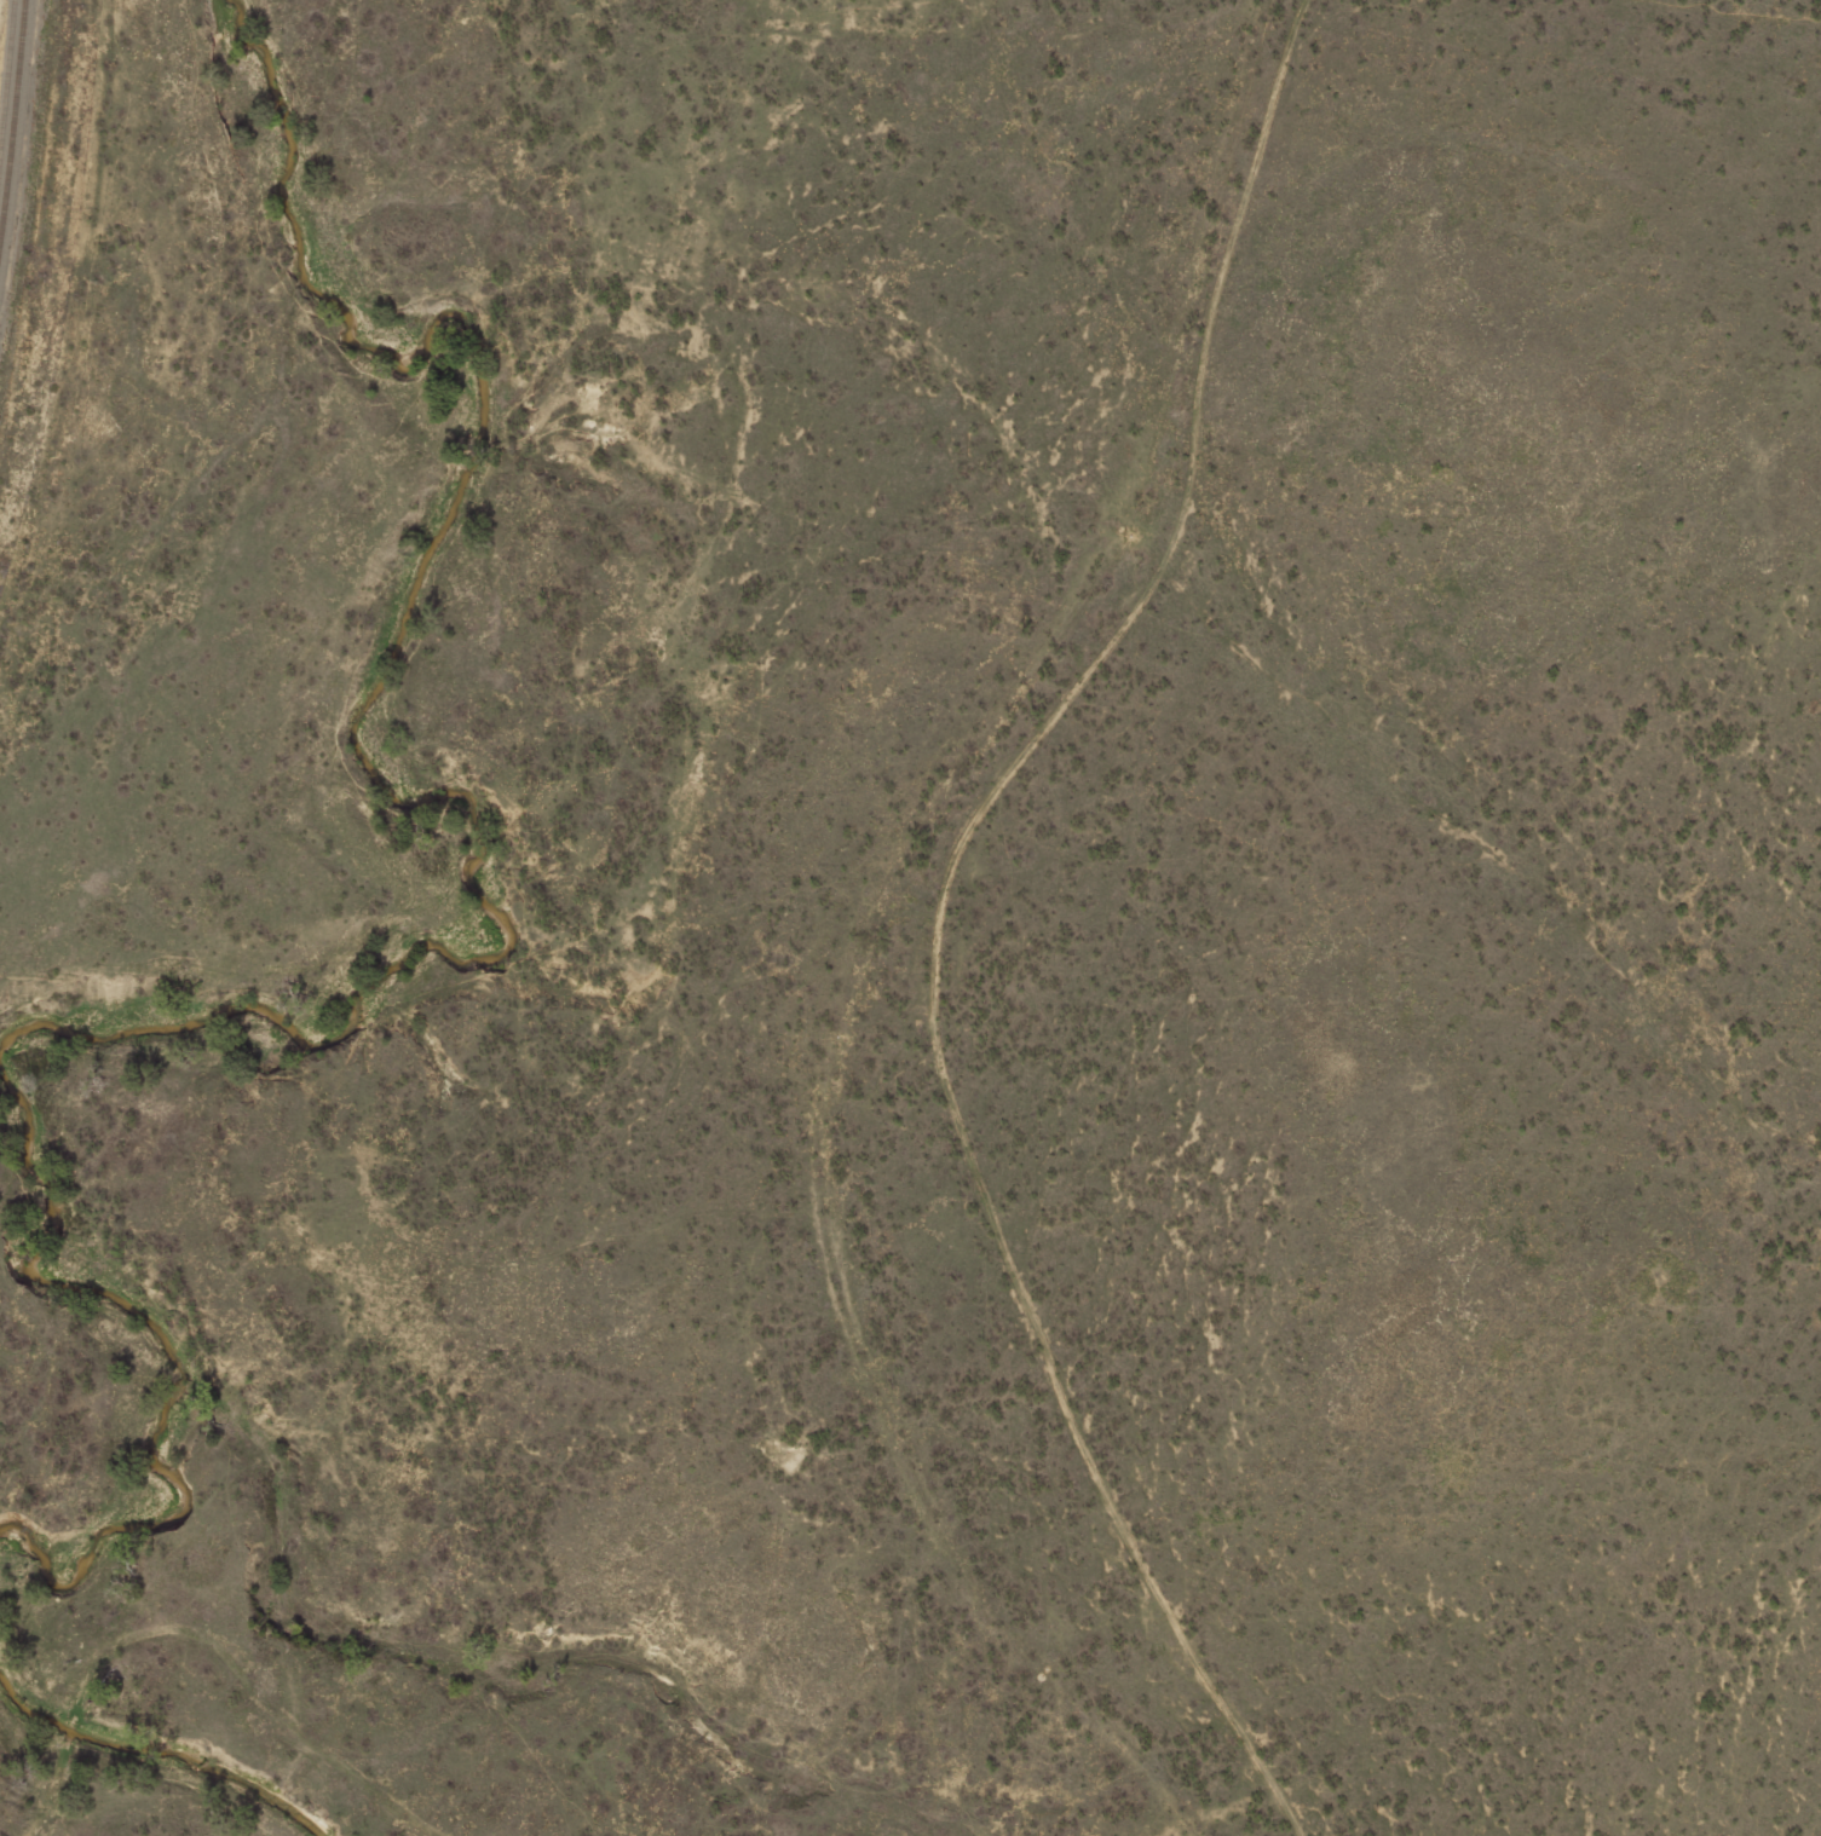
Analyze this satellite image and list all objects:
railway: (5, 53)
railway: (12, 114)

